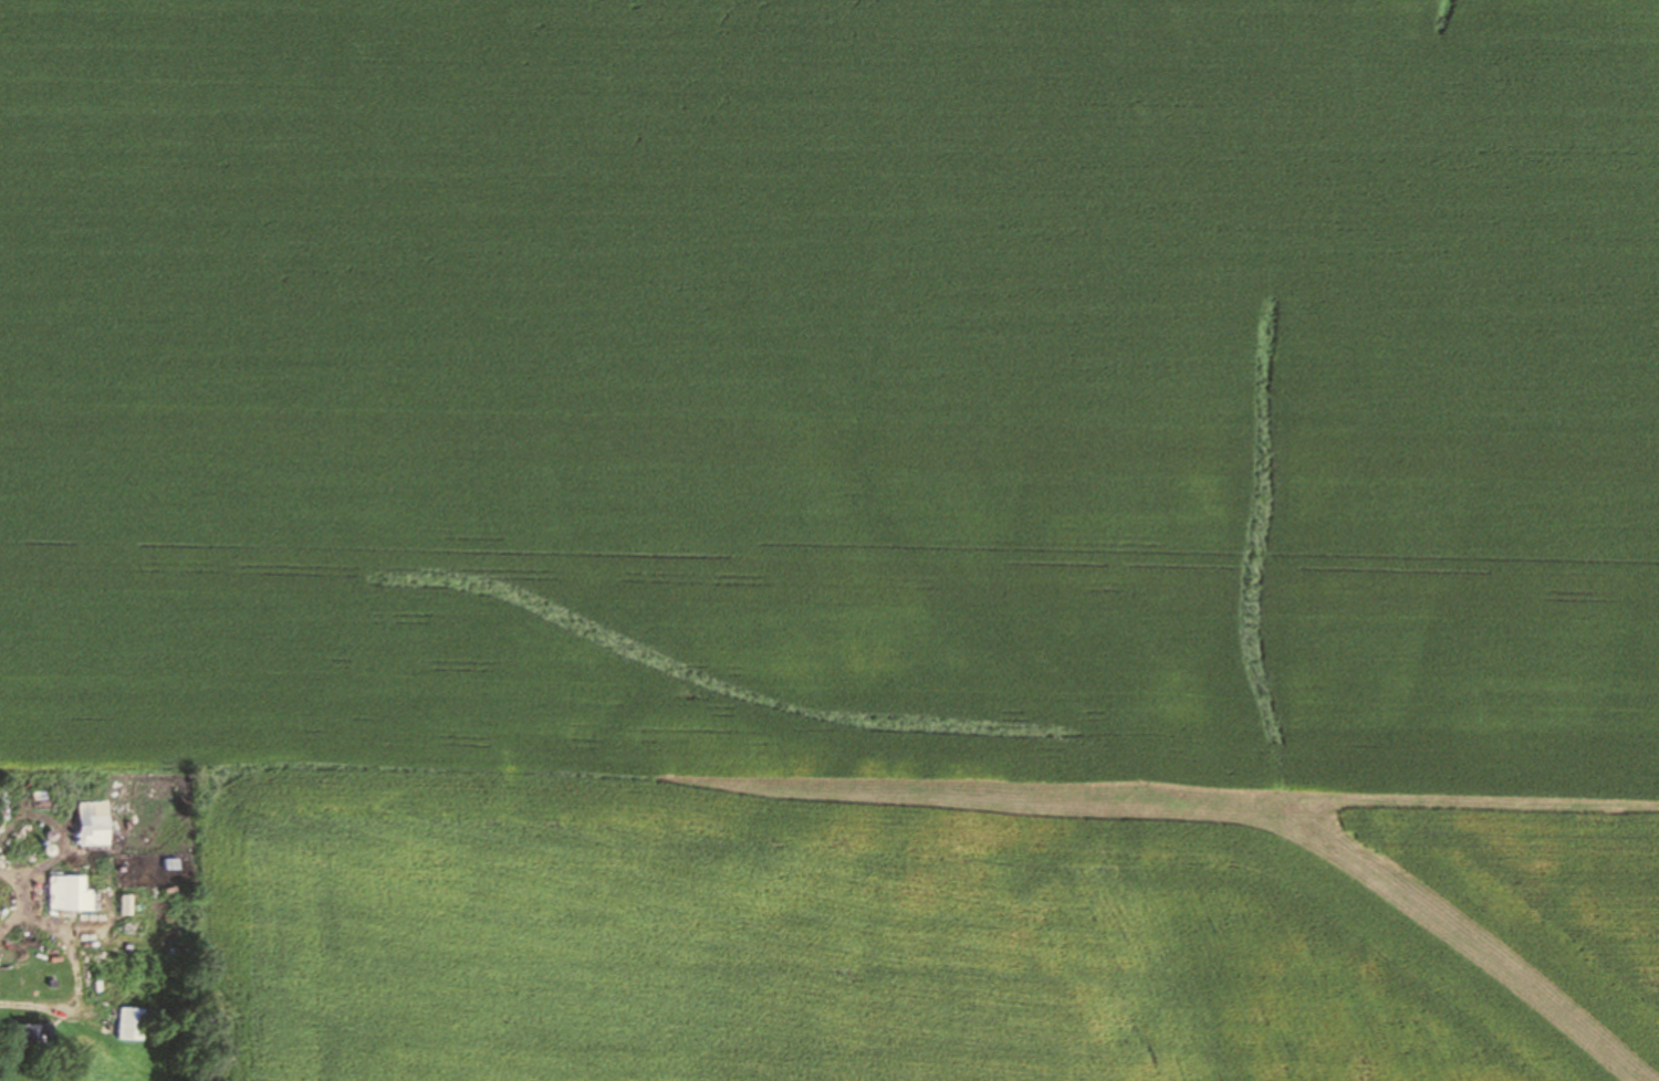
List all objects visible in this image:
building: (95, 829)
building: (74, 892)
building: (133, 1024)
building: (24, 1035)

